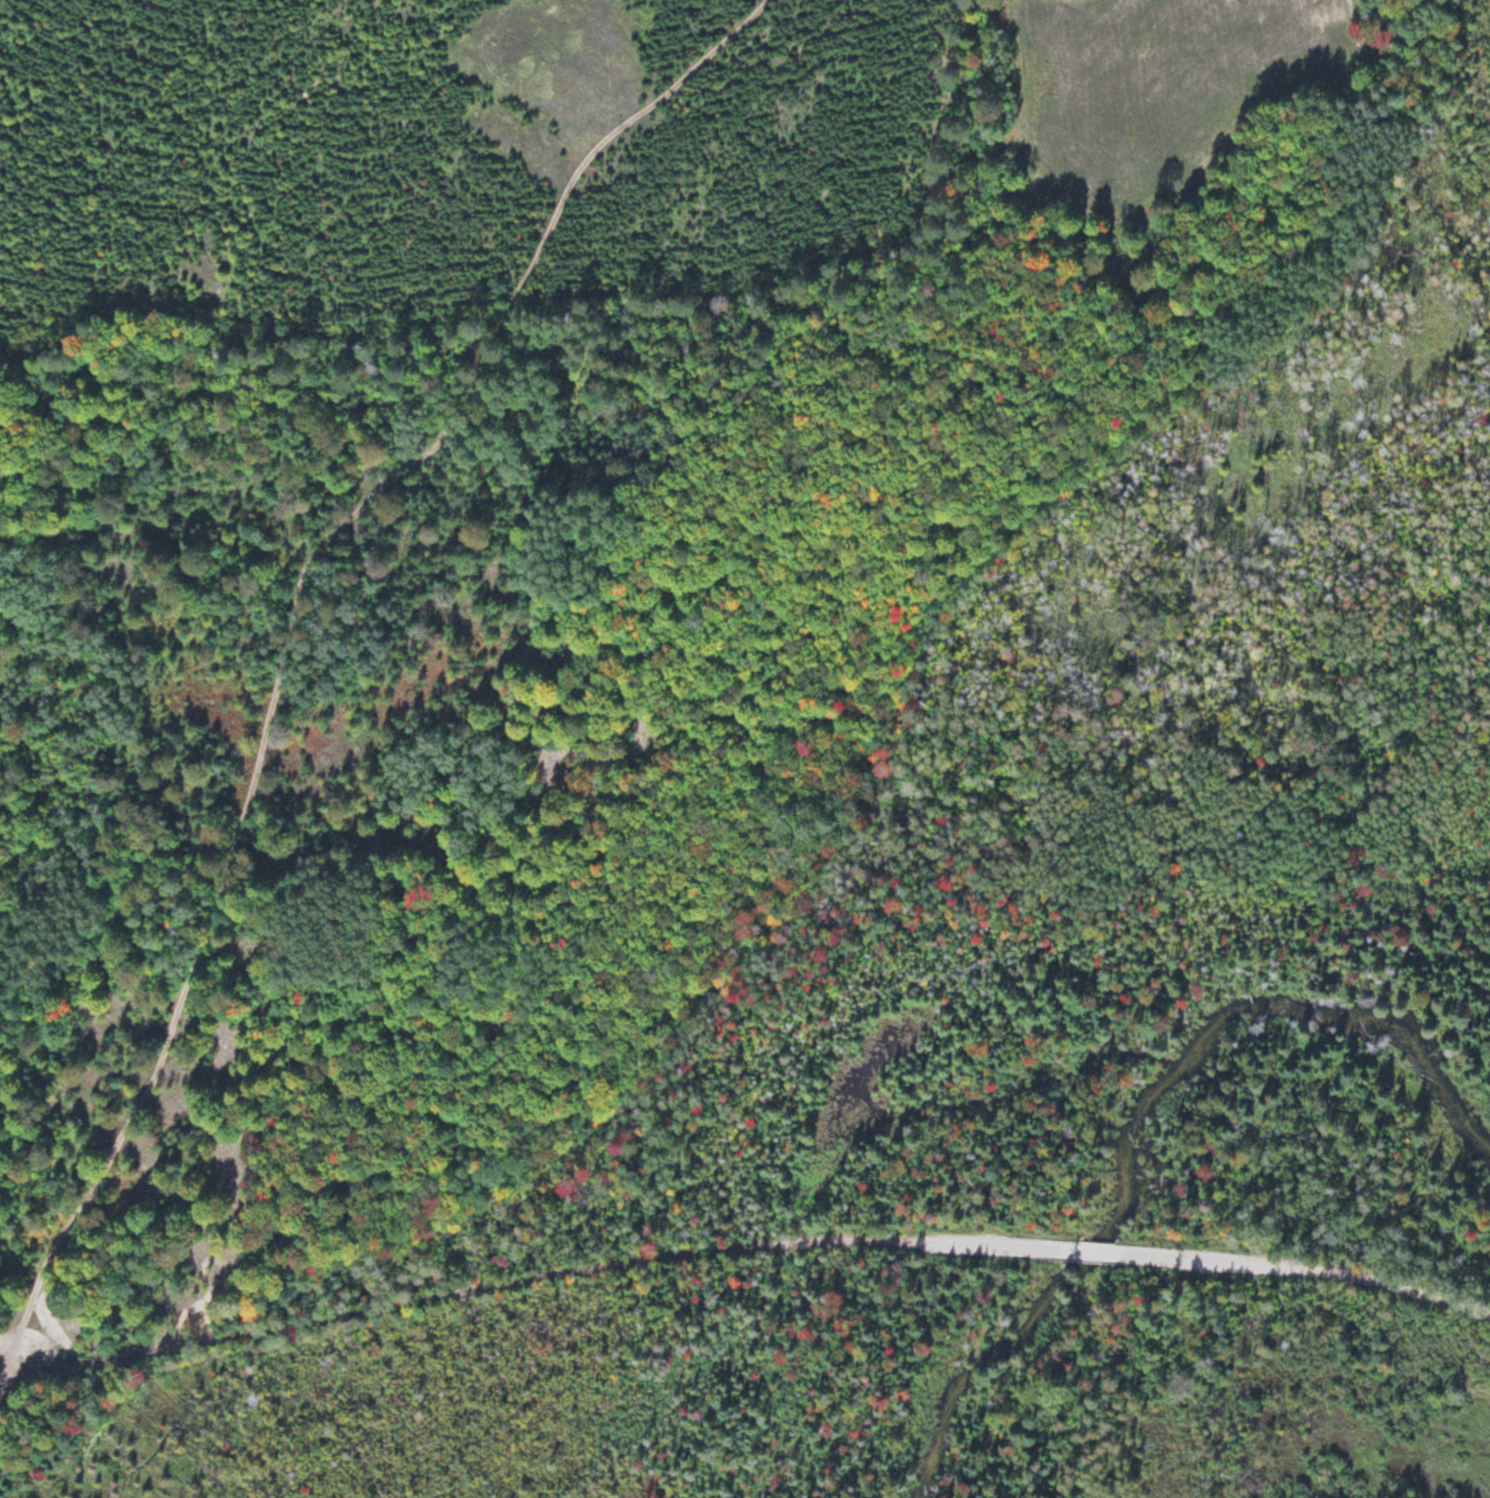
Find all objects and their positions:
road: (290, 622)
river: (1169, 1119)
road: (990, 1246)
road: (1086, 1251)
road: (1208, 1260)
road: (1397, 1284)
road: (458, 1287)

